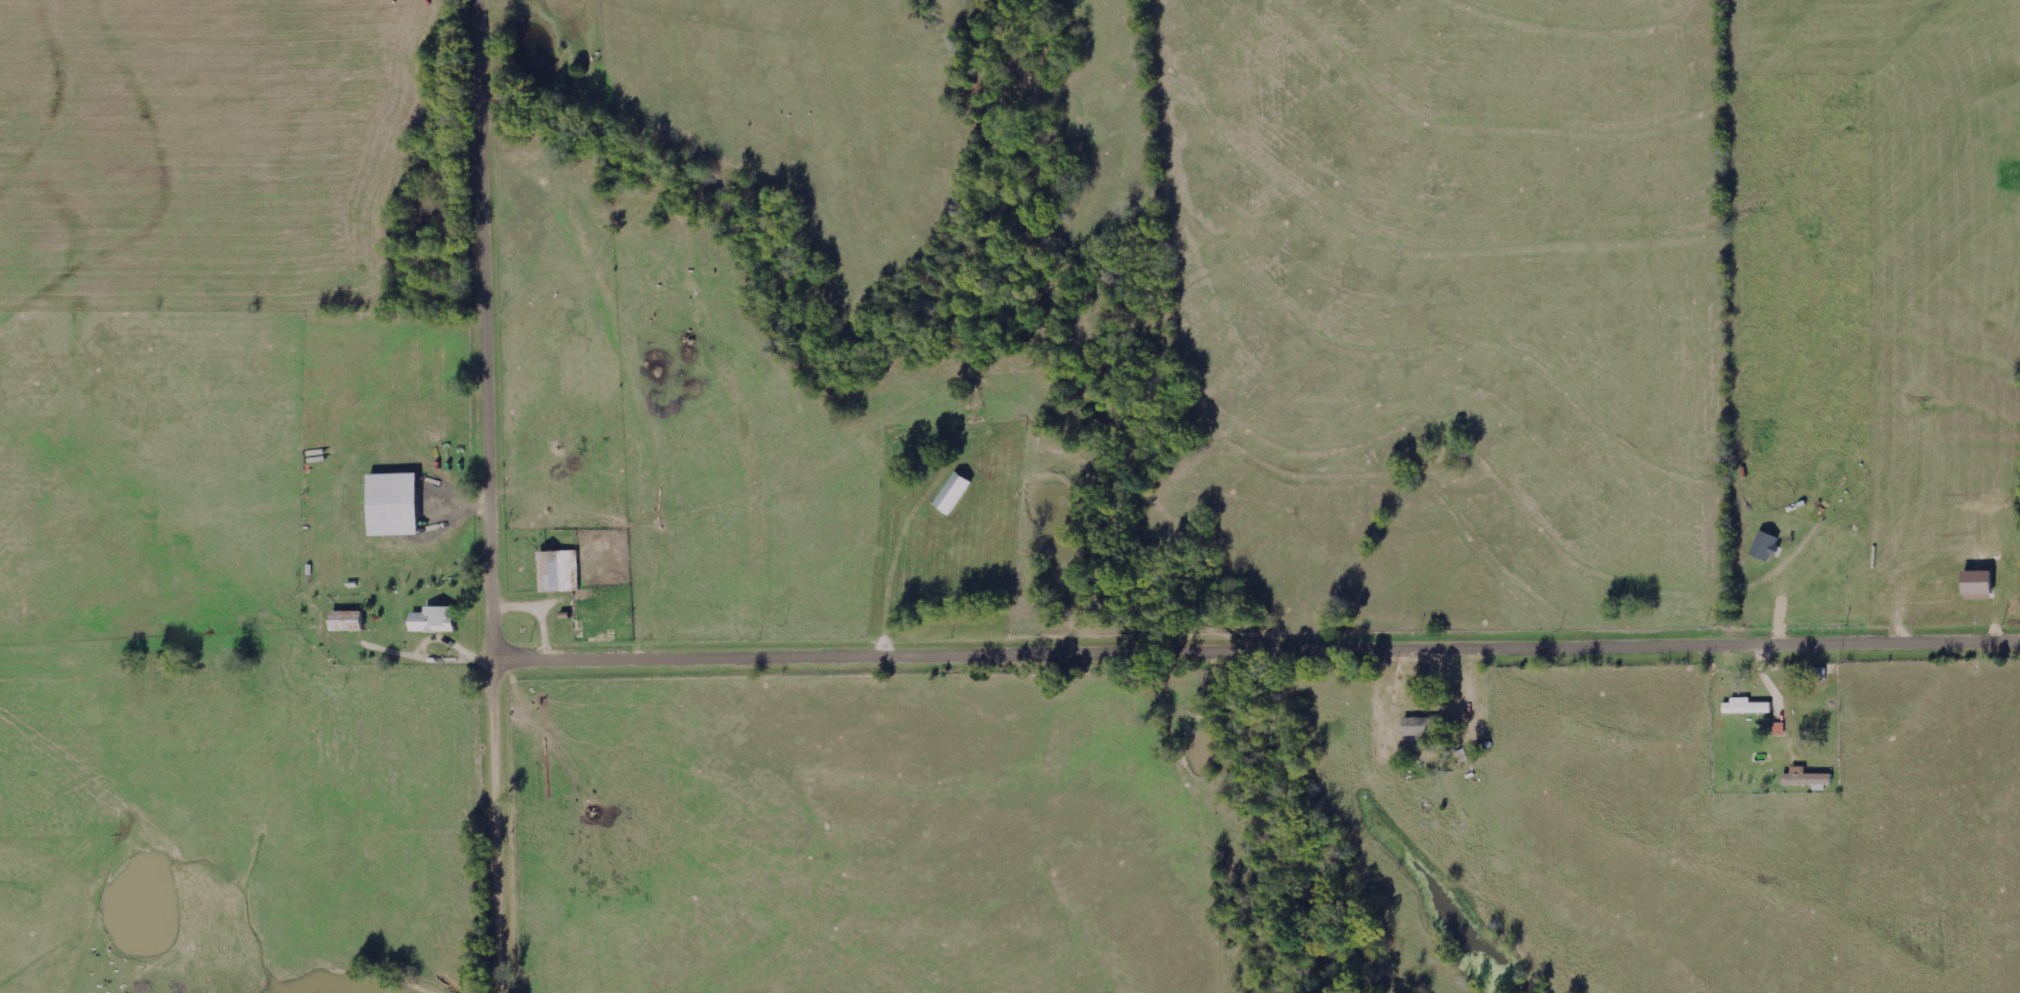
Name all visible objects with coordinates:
building: (951, 493)
road: (499, 496)
building: (391, 504)
building: (1764, 546)
building: (557, 571)
building: (1975, 584)
building: (431, 620)
building: (344, 621)
road: (1261, 654)
building: (1744, 706)
building: (1421, 726)
building: (1777, 728)
building: (1804, 777)

